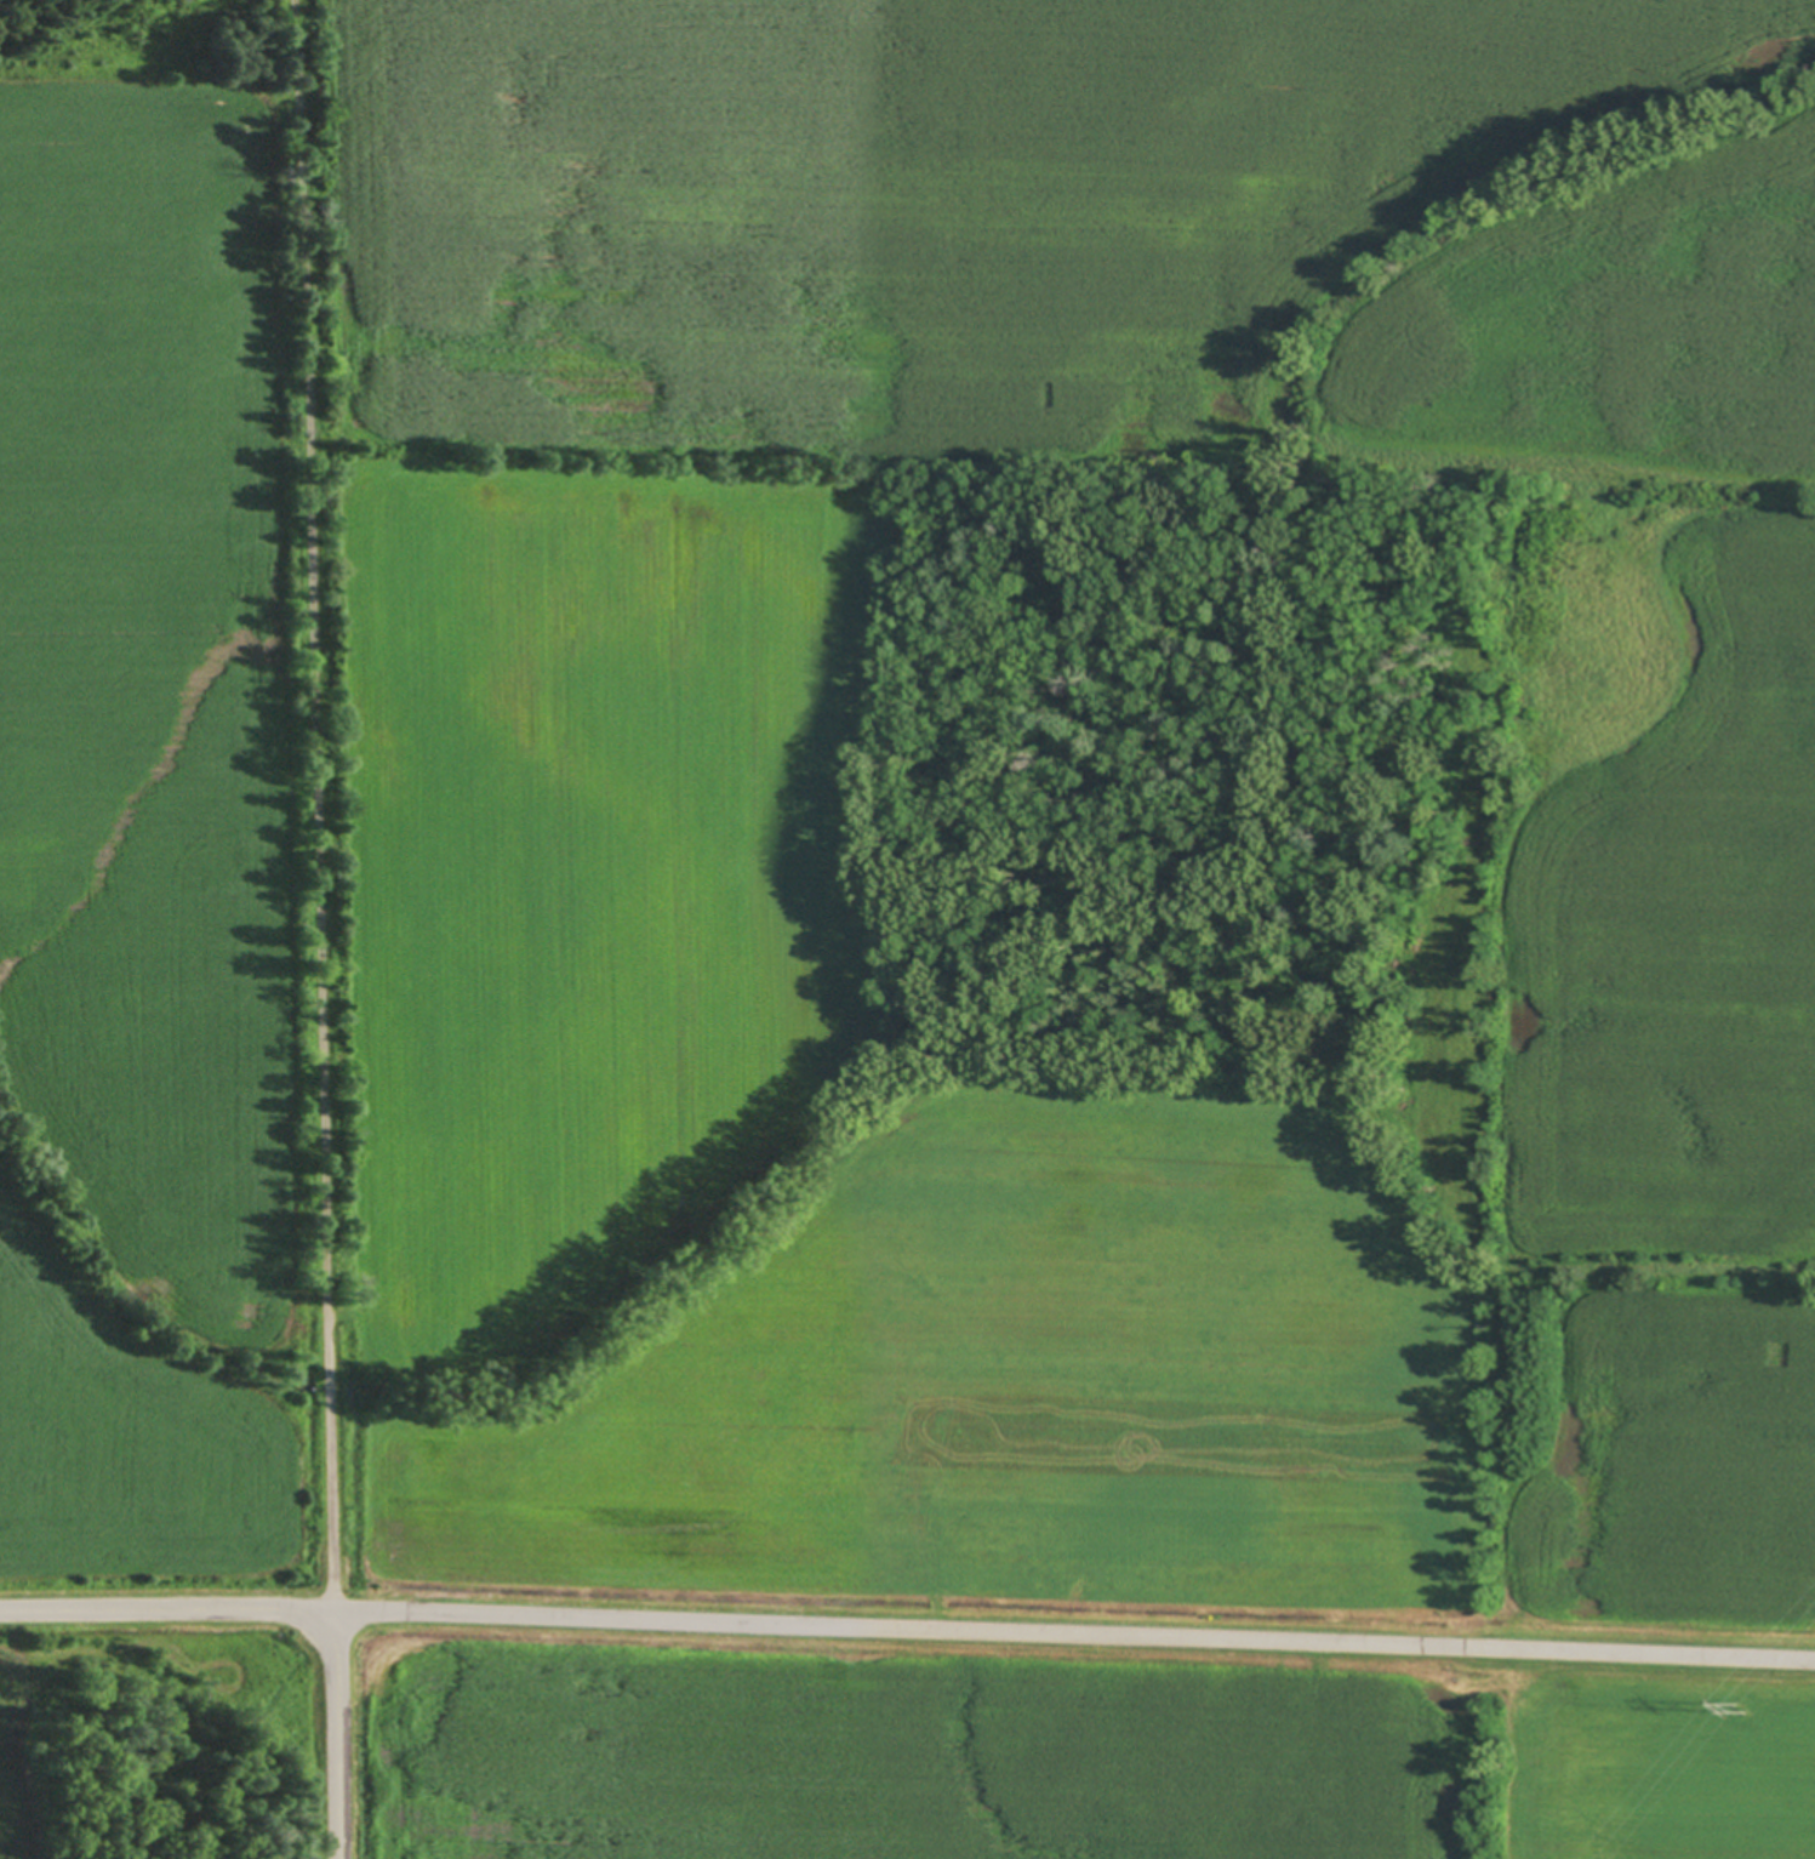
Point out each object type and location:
road: (306, 805)
road: (165, 1612)
road: (1073, 1636)
power tower: (1736, 1709)
road: (332, 1734)

